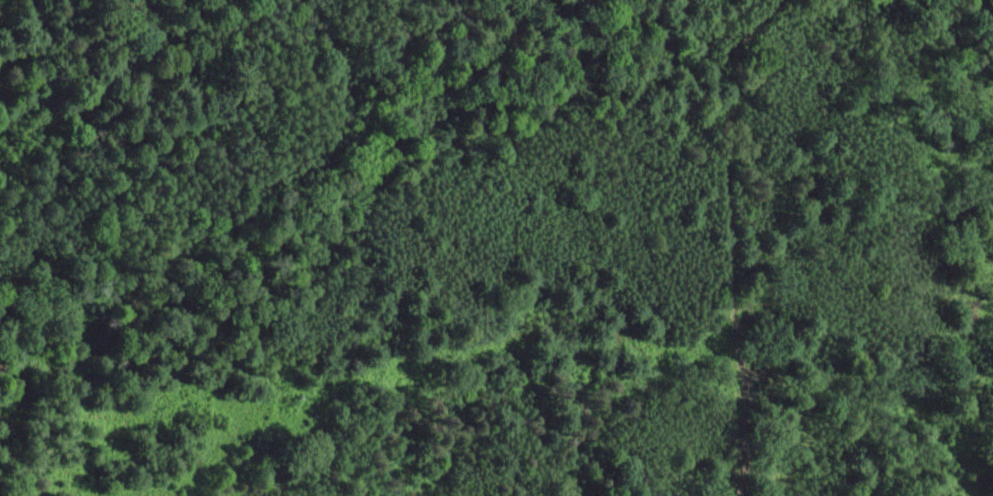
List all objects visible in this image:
road: (728, 240)

